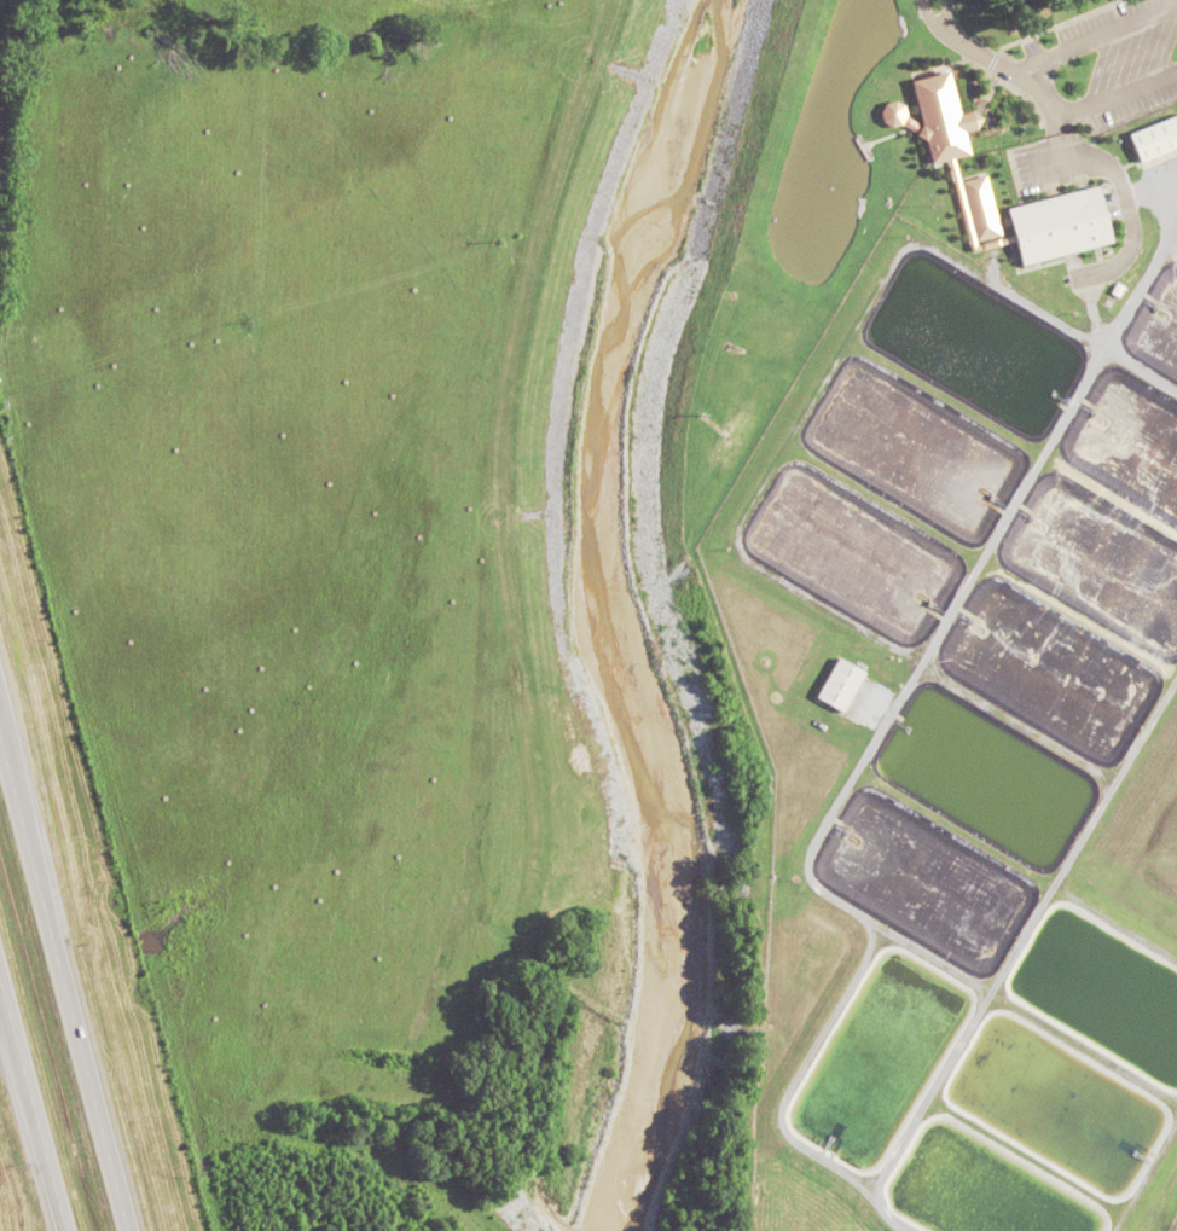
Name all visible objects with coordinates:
road: (946, 14)
road: (929, 18)
road: (1048, 27)
road: (1097, 36)
road: (992, 60)
road: (1022, 63)
road: (1011, 69)
road: (987, 72)
road: (1117, 89)
road: (987, 92)
building: (937, 114)
road: (1120, 117)
road: (1057, 124)
road: (1094, 134)
building: (1156, 135)
road: (1094, 158)
road: (1148, 159)
road: (1120, 168)
road: (1104, 174)
road: (1031, 193)
road: (1126, 197)
building: (981, 205)
building: (1061, 221)
building: (827, 684)
road: (63, 985)
road: (31, 1108)

